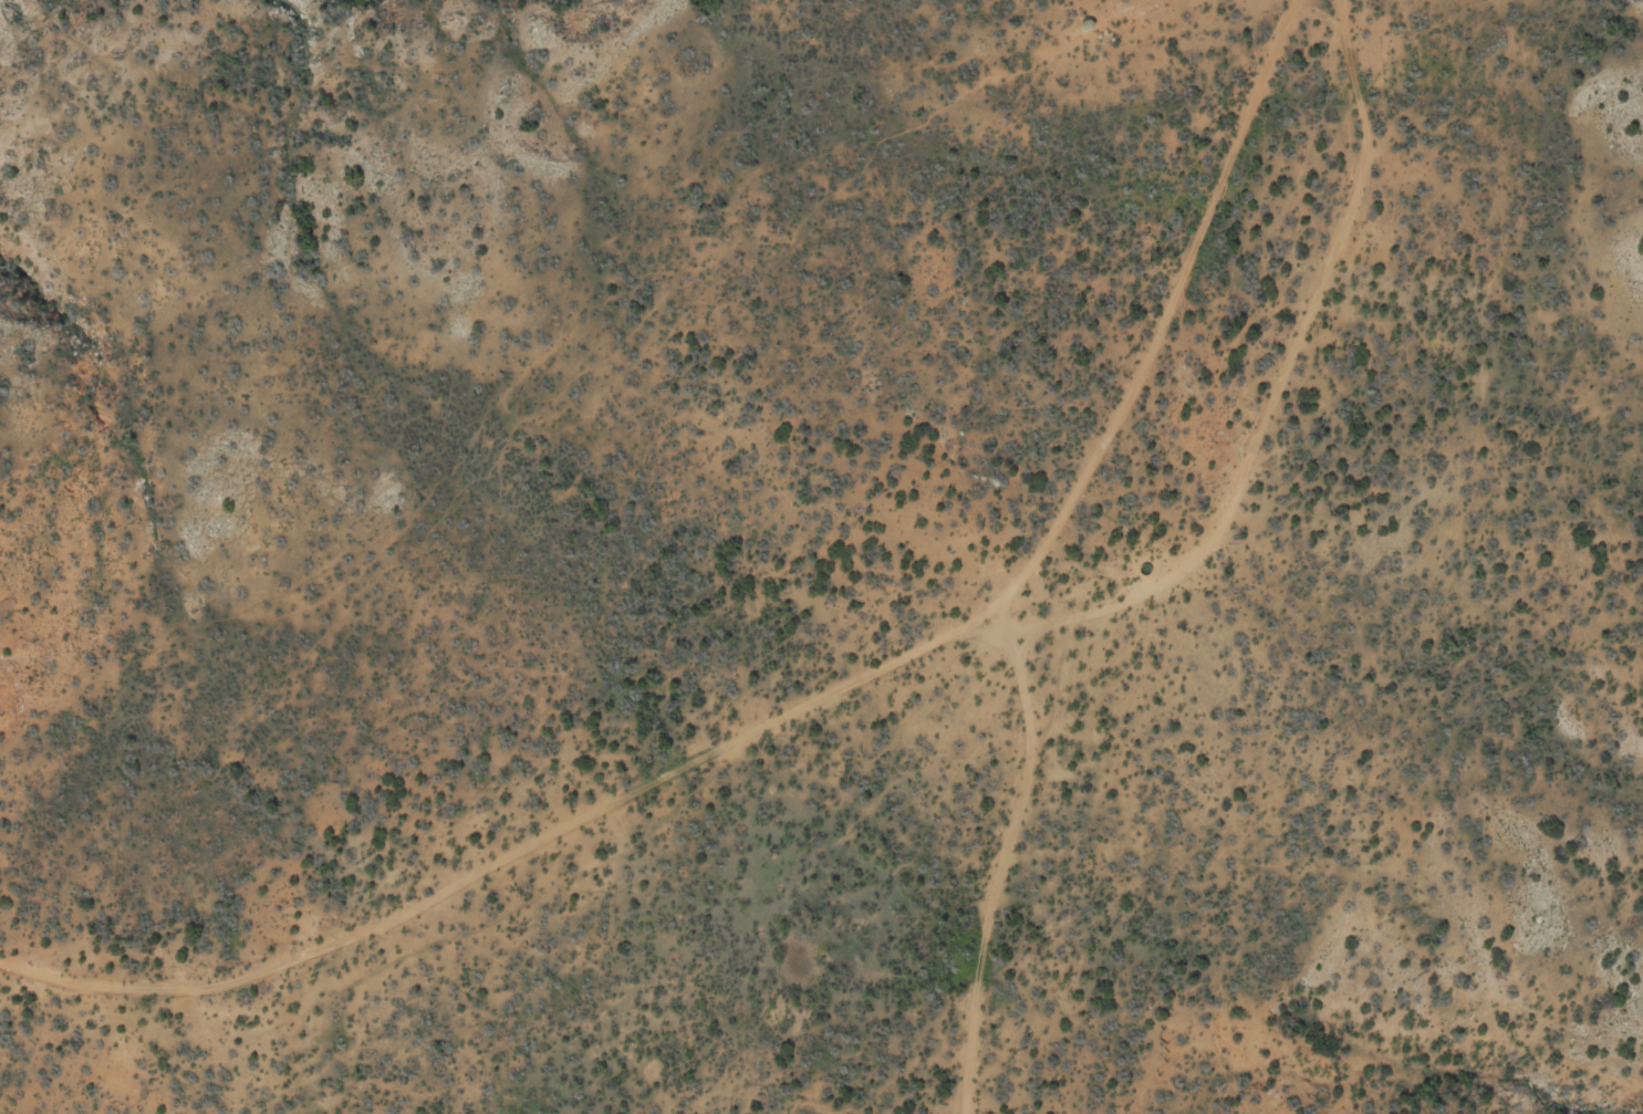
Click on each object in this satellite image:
road: (1215, 711)

